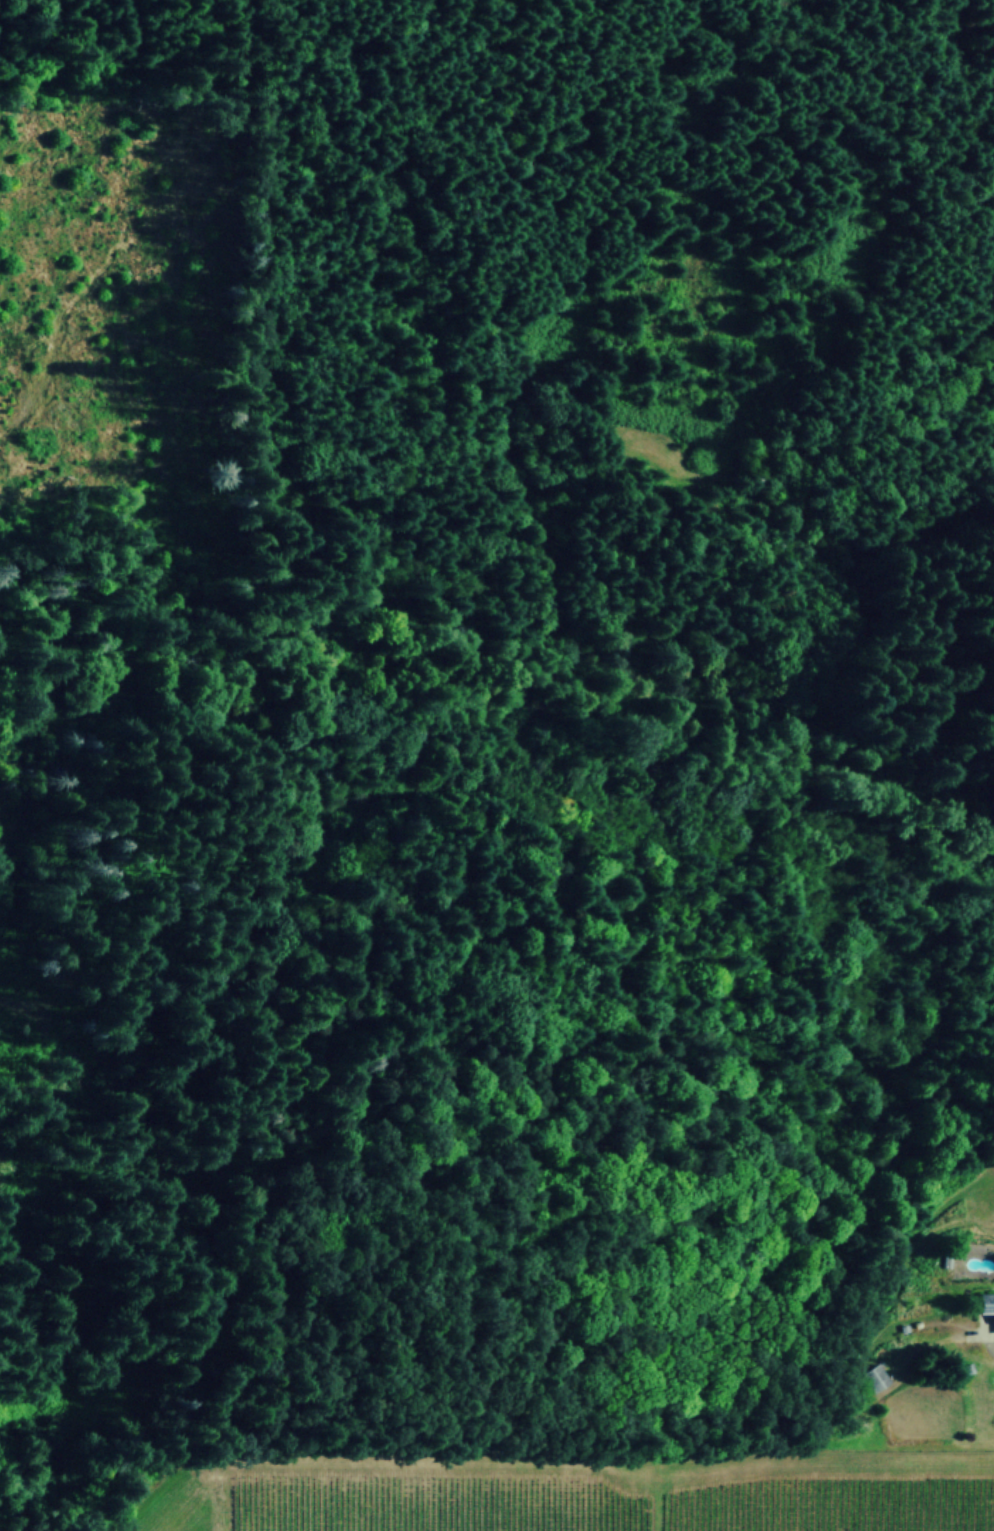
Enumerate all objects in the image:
road: (993, 1348)

